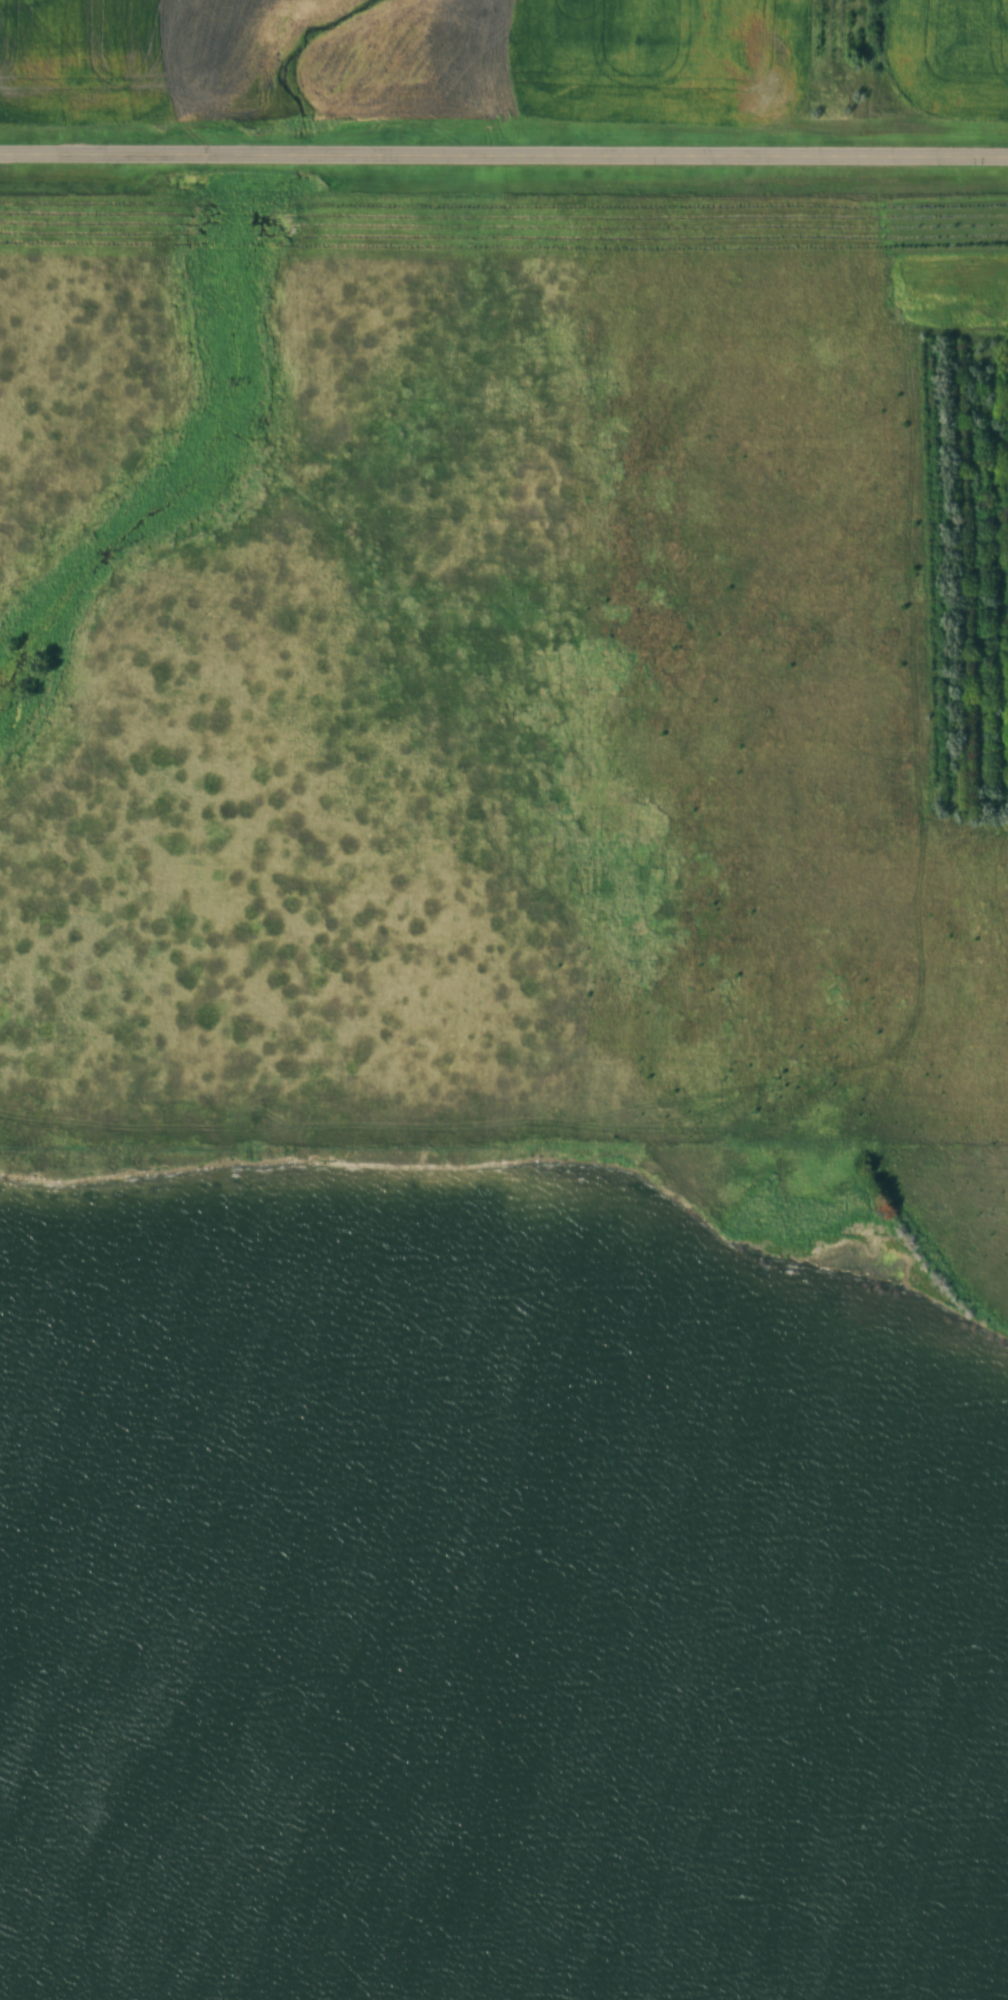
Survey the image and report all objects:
road: (504, 154)

